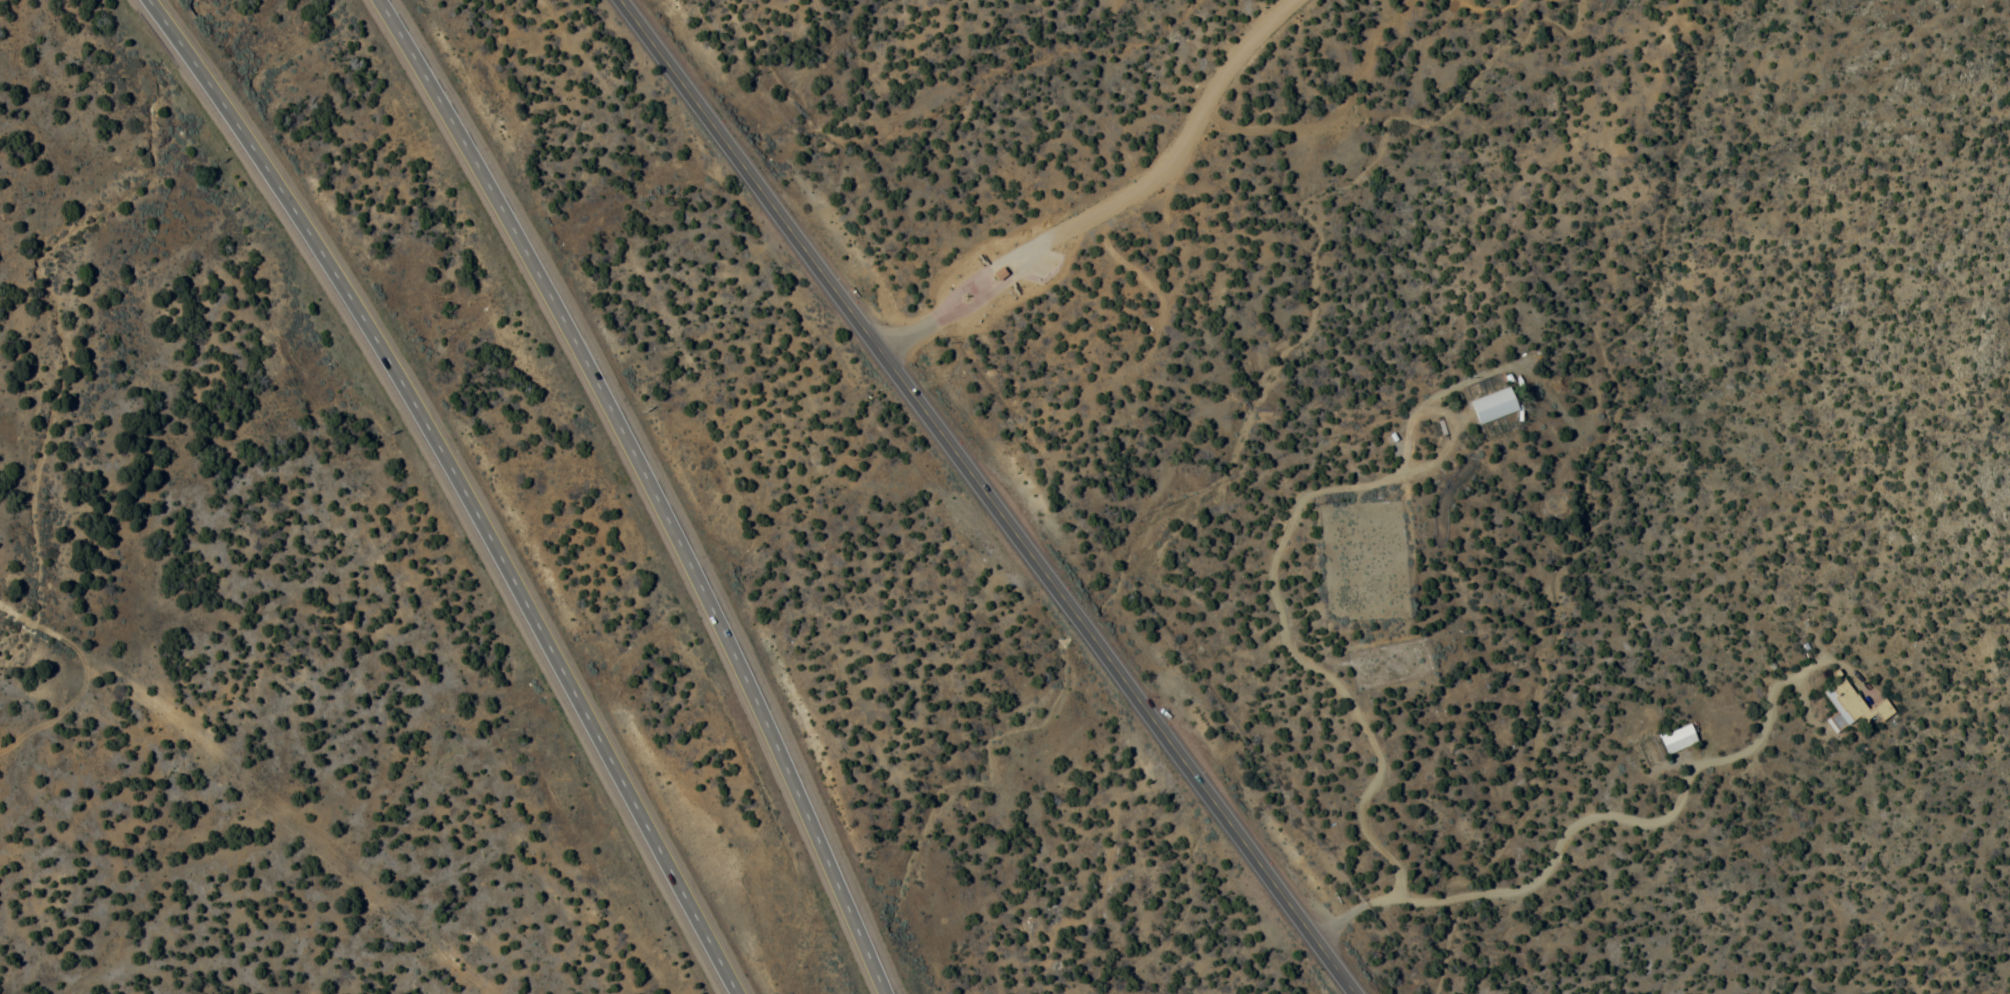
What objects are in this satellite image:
road: (1112, 201)
toll booth: (996, 260)
building: (1487, 405)
road: (650, 488)
road: (430, 489)
road: (985, 496)
road: (1534, 662)
building: (1848, 705)
building: (1672, 740)
road: (218, 794)

